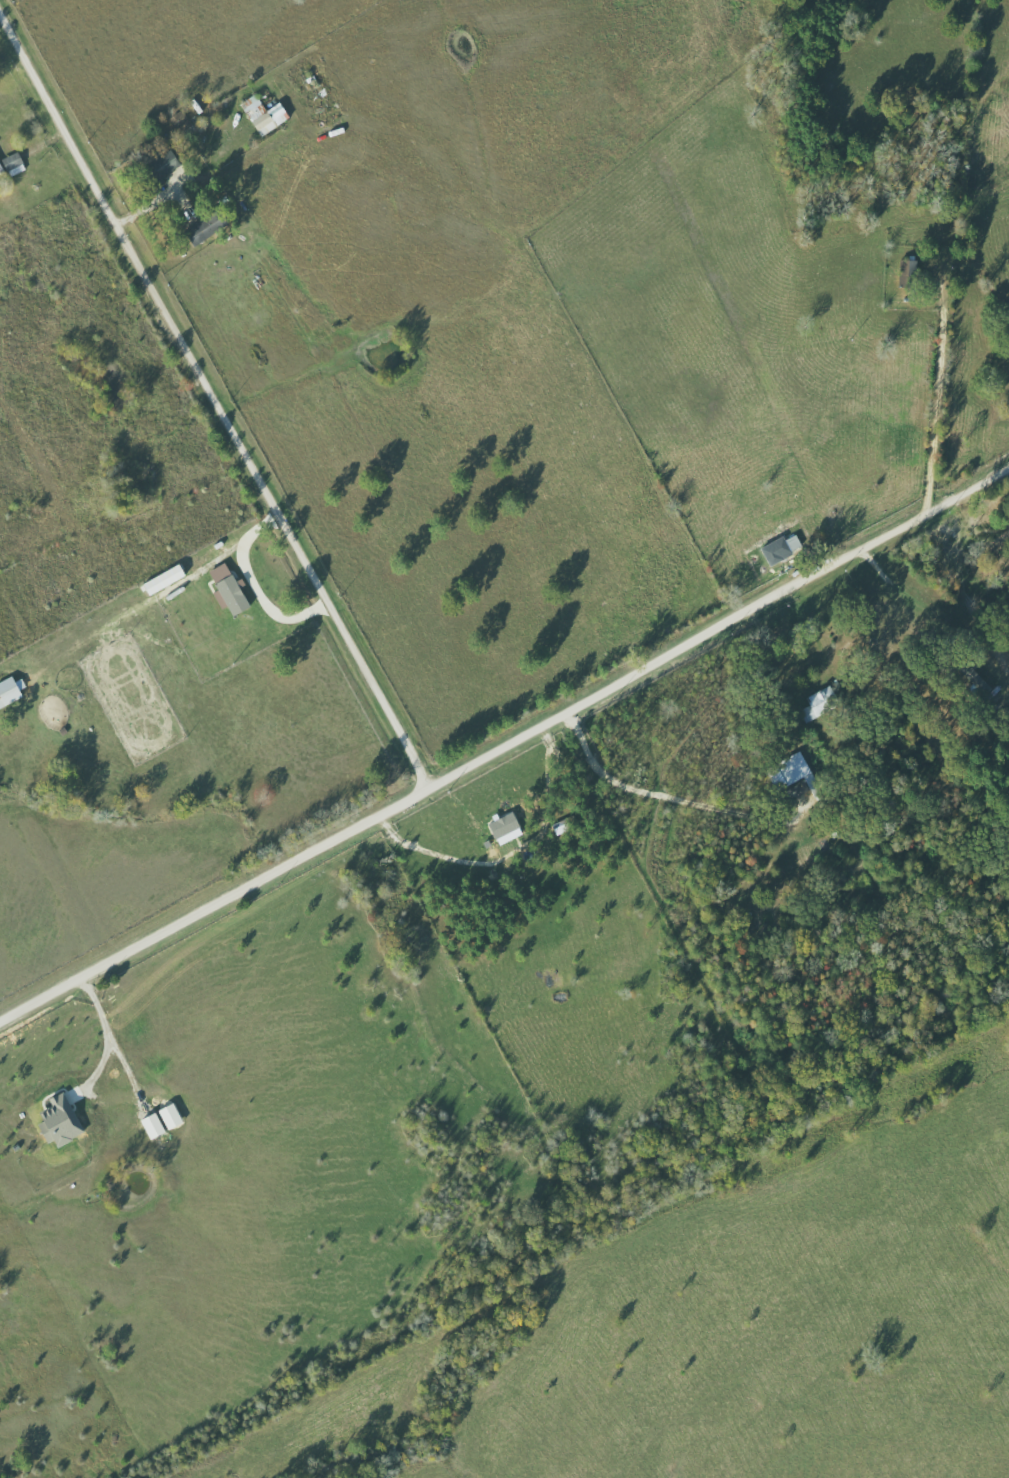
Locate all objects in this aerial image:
building: (267, 115)
building: (182, 121)
building: (17, 163)
building: (169, 164)
building: (3, 167)
building: (212, 227)
road: (212, 397)
building: (784, 549)
building: (168, 579)
building: (232, 589)
road: (716, 624)
building: (12, 691)
building: (822, 702)
building: (796, 768)
road: (635, 790)
building: (508, 826)
road: (212, 902)
building: (64, 1122)
building: (157, 1126)

